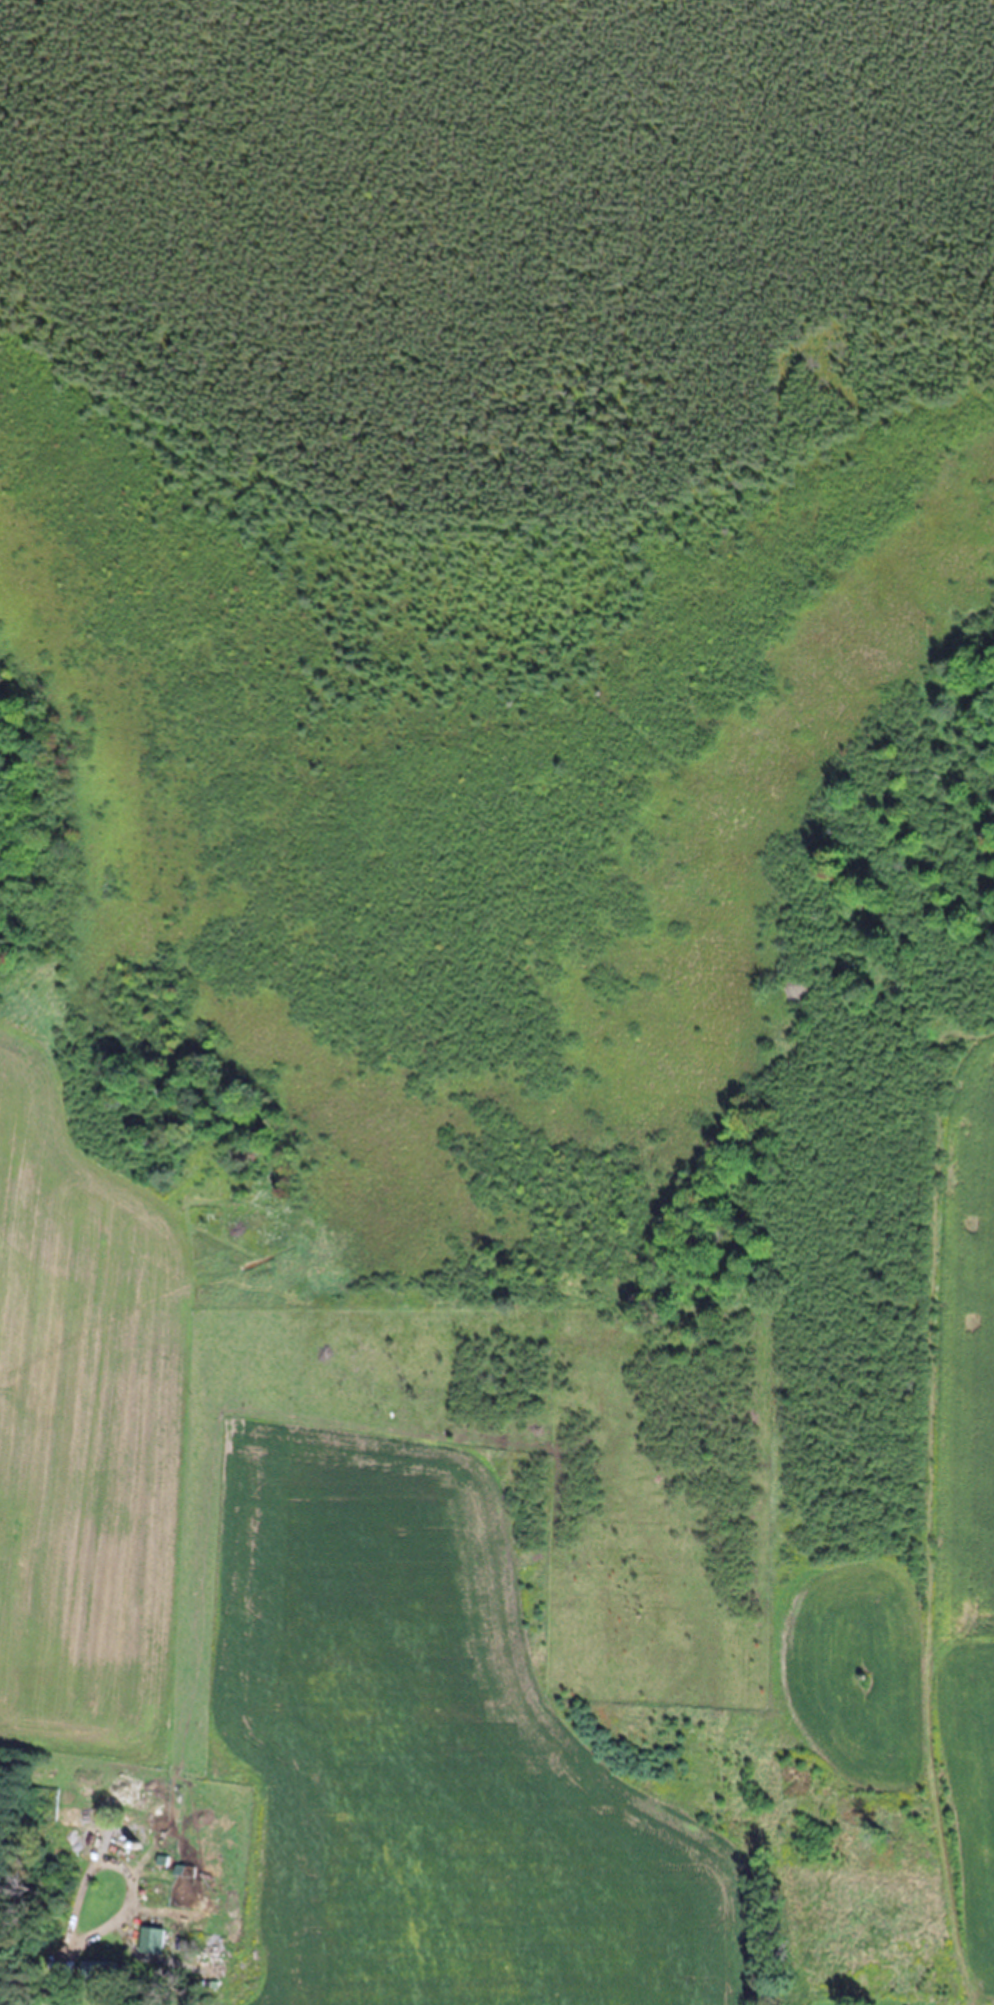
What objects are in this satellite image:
road: (121, 1855)
building: (157, 1887)
building: (152, 1934)
building: (99, 1969)
road: (51, 1981)

